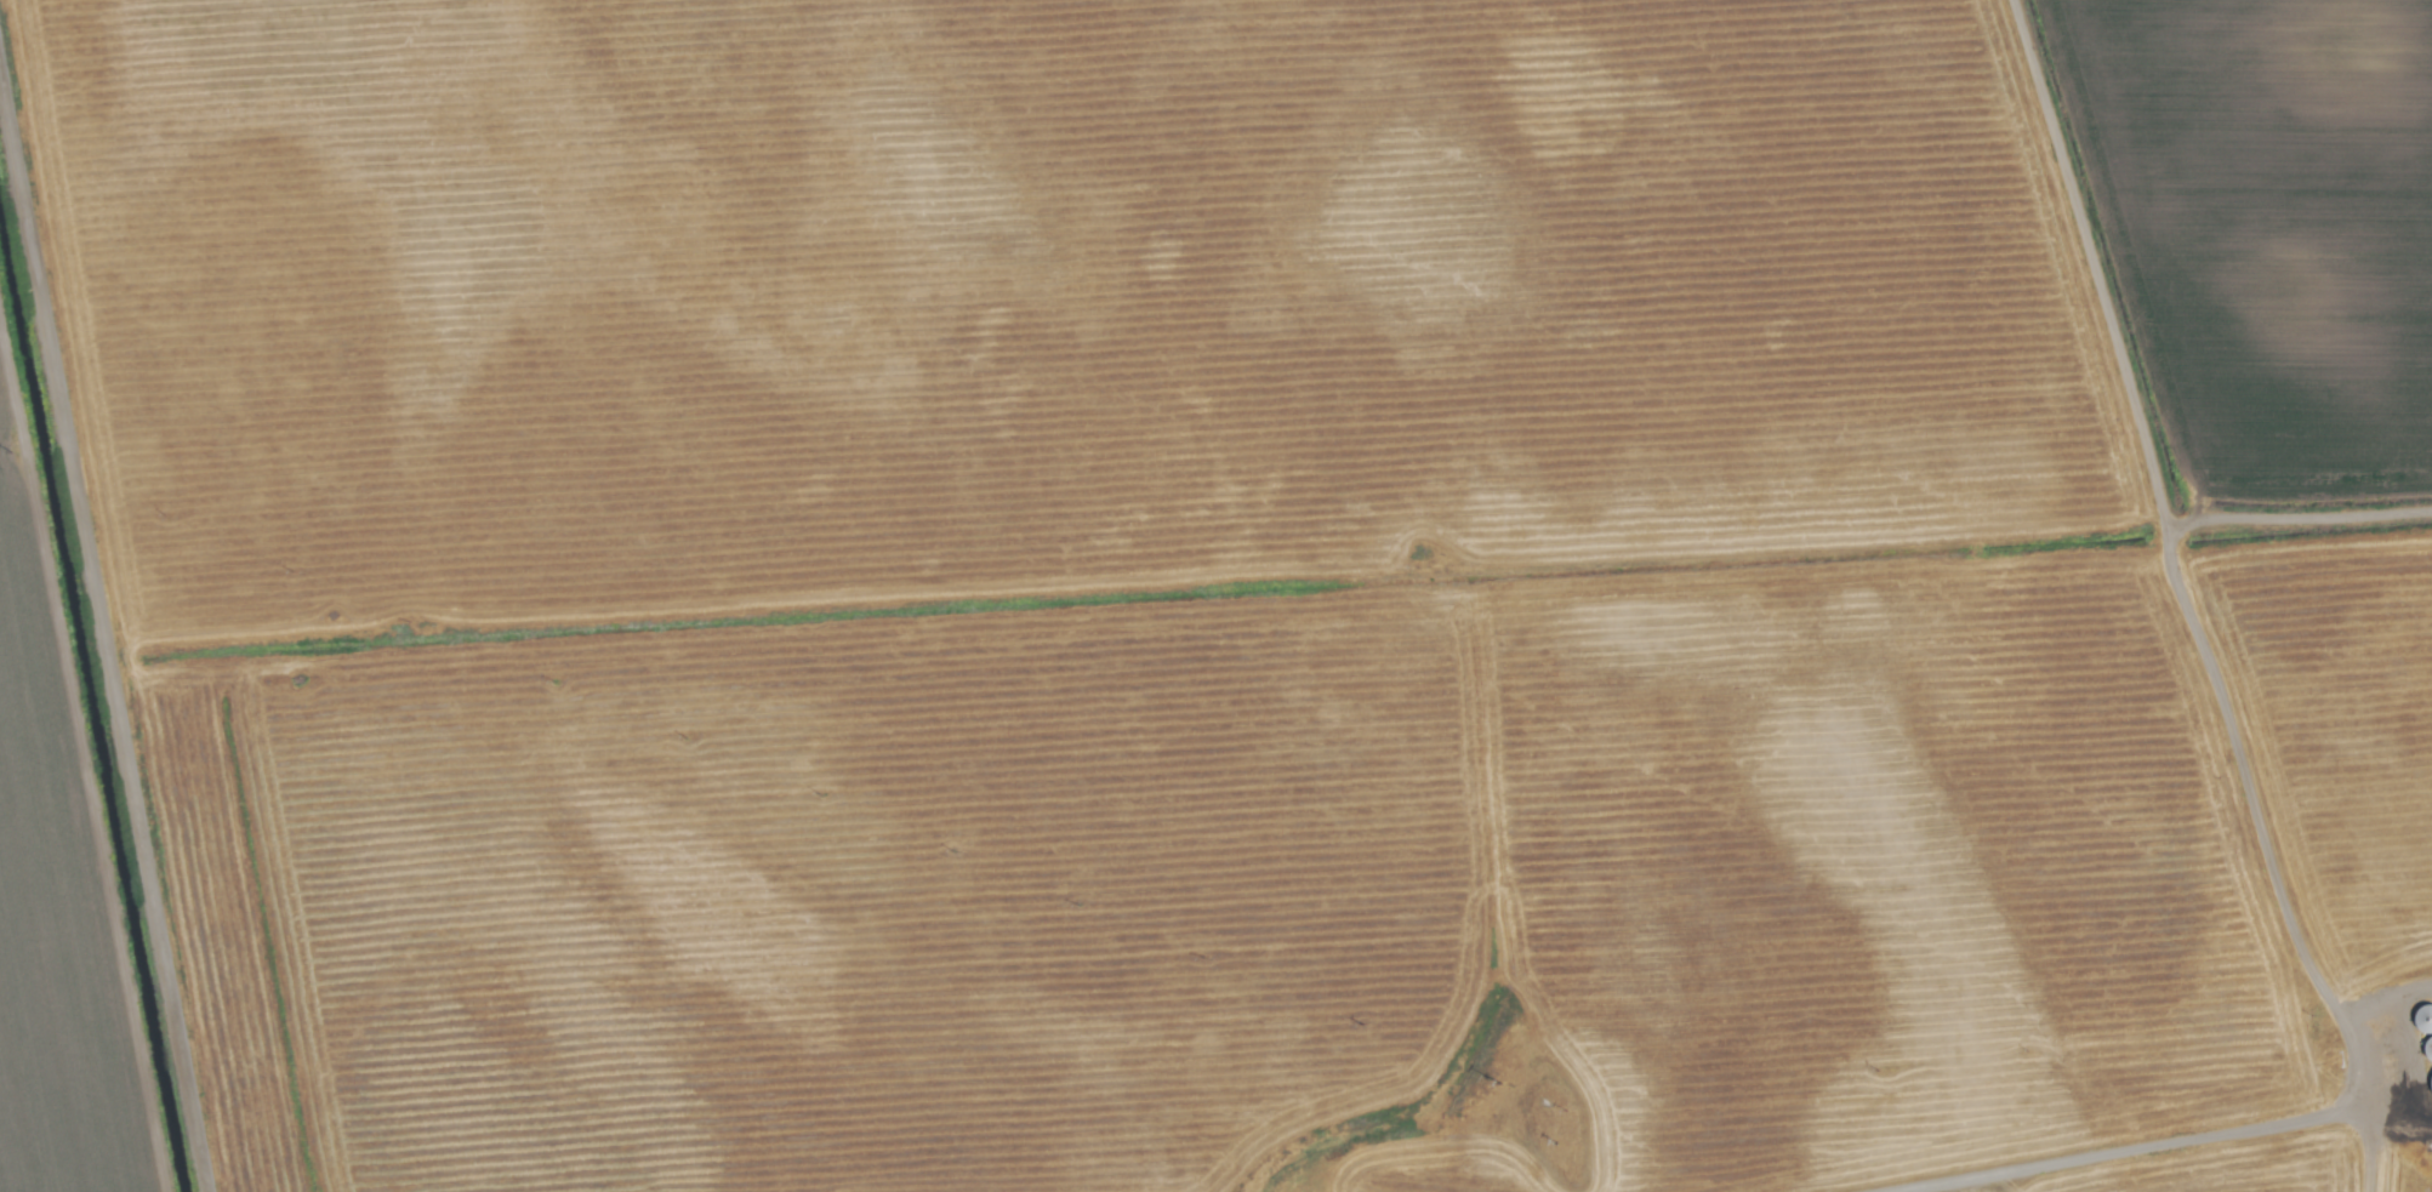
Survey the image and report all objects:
crop: (1215, 595)
road: (103, 627)
road: (2217, 700)
road: (2153, 1147)

